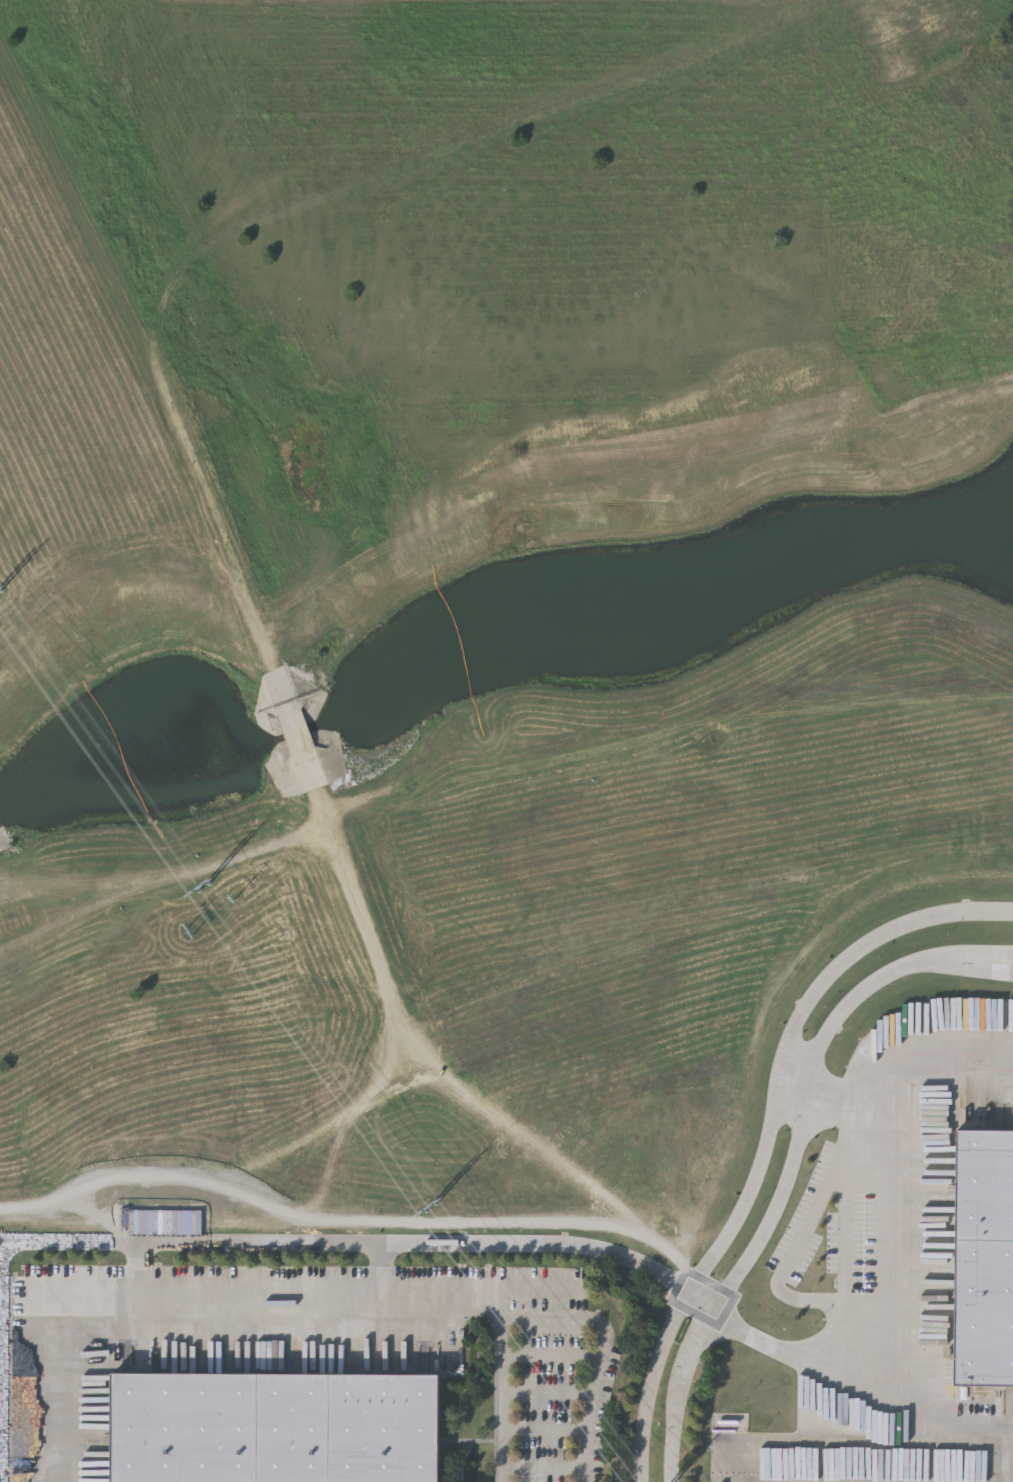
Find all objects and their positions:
building: (3, 841)
power tower: (206, 887)
power tower: (237, 901)
power tower: (193, 934)
building: (935, 1040)
road: (949, 1083)
road: (797, 1086)
road: (768, 1135)
road: (793, 1164)
building: (820, 1184)
power tower: (440, 1210)
road: (802, 1236)
road: (249, 1244)
building: (985, 1257)
road: (380, 1272)
road: (141, 1274)
road: (888, 1277)
road: (278, 1302)
road: (543, 1318)
road: (600, 1326)
road: (936, 1416)
building: (276, 1426)
road: (981, 1428)

